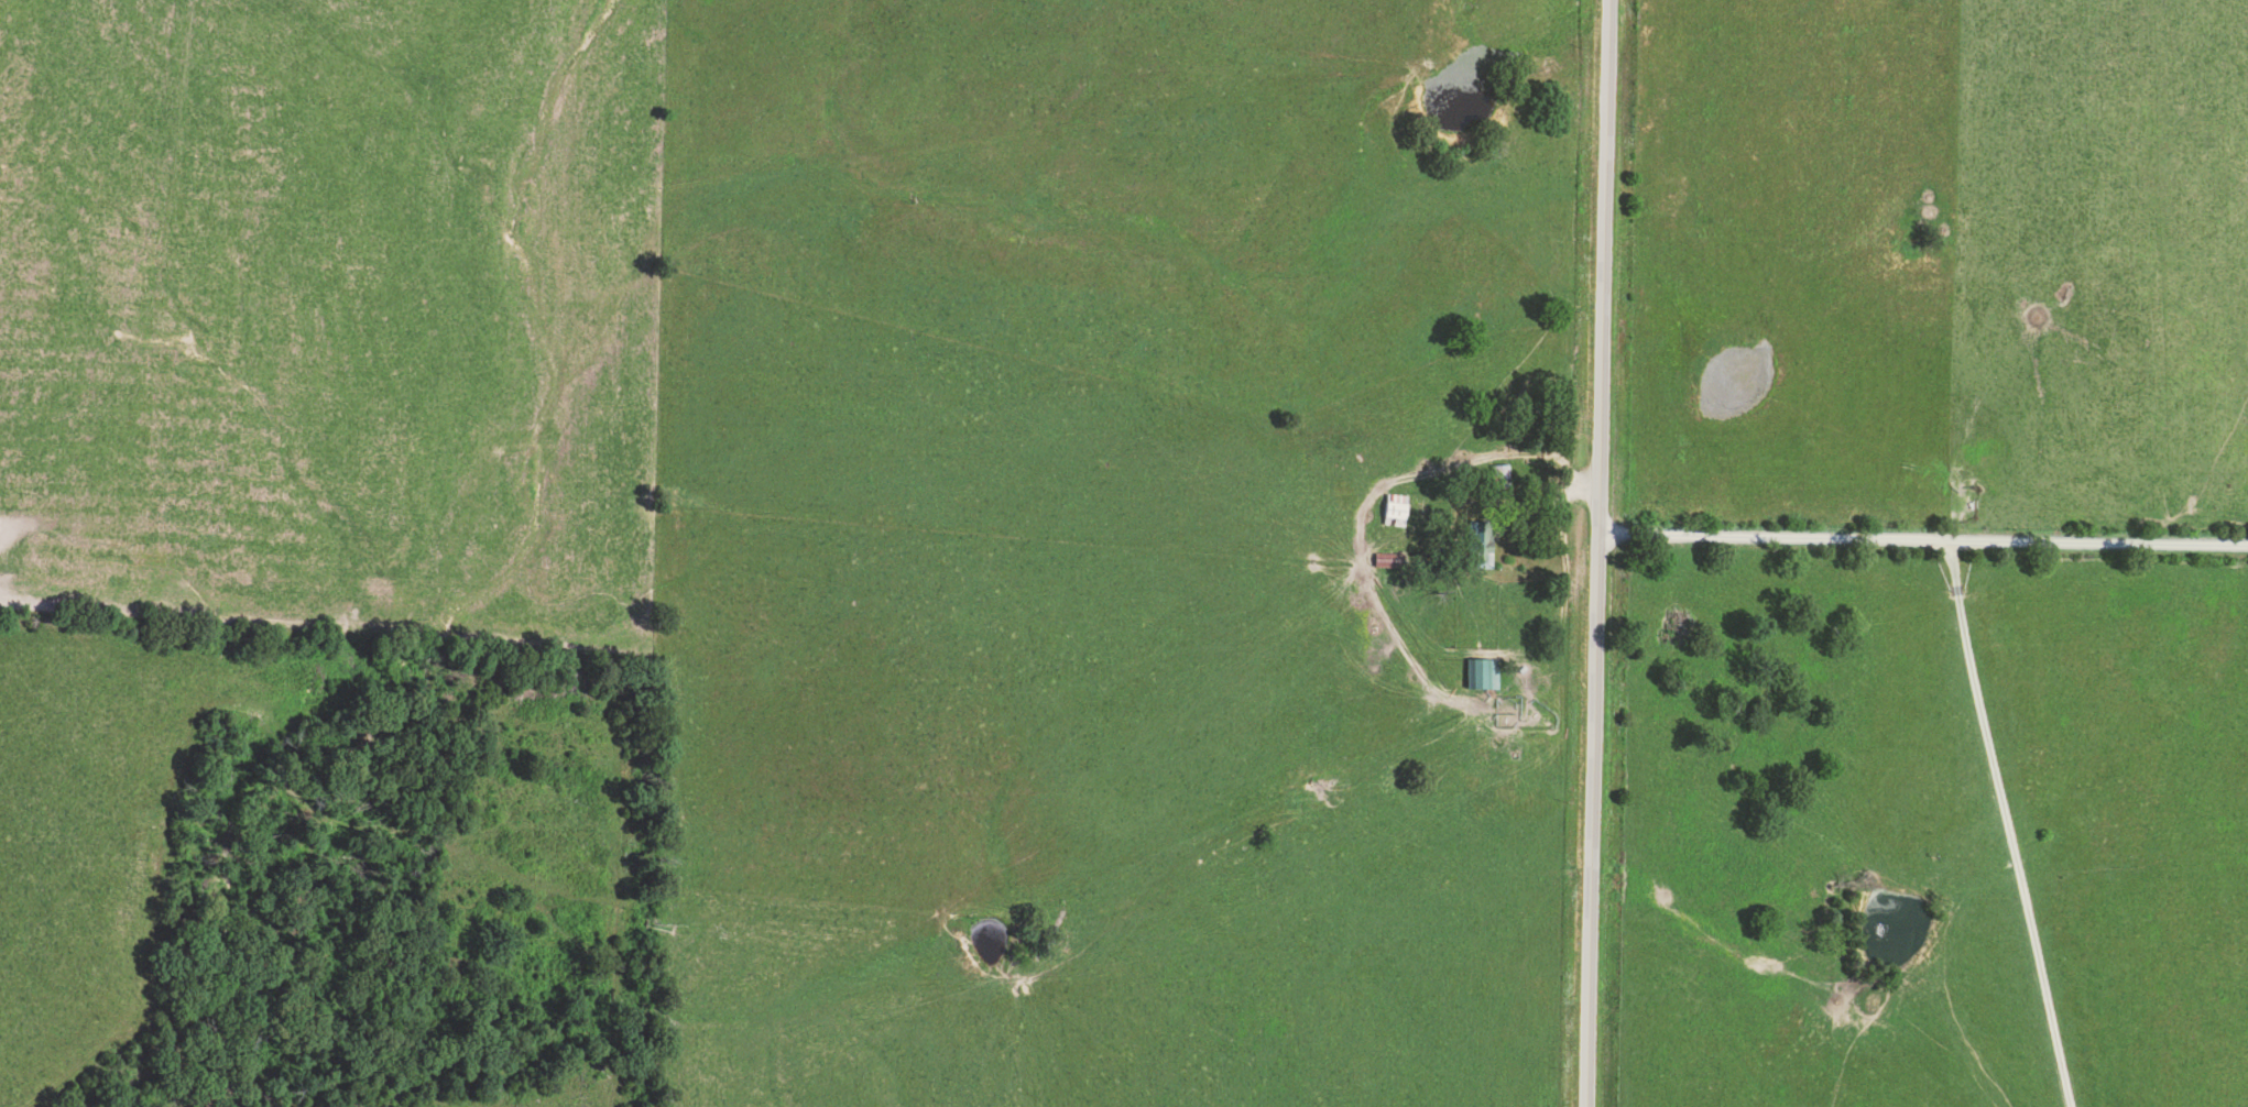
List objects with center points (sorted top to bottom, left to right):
building: (1497, 474)
building: (1393, 506)
road: (1921, 531)
building: (1476, 547)
road: (1594, 552)
building: (1481, 673)

